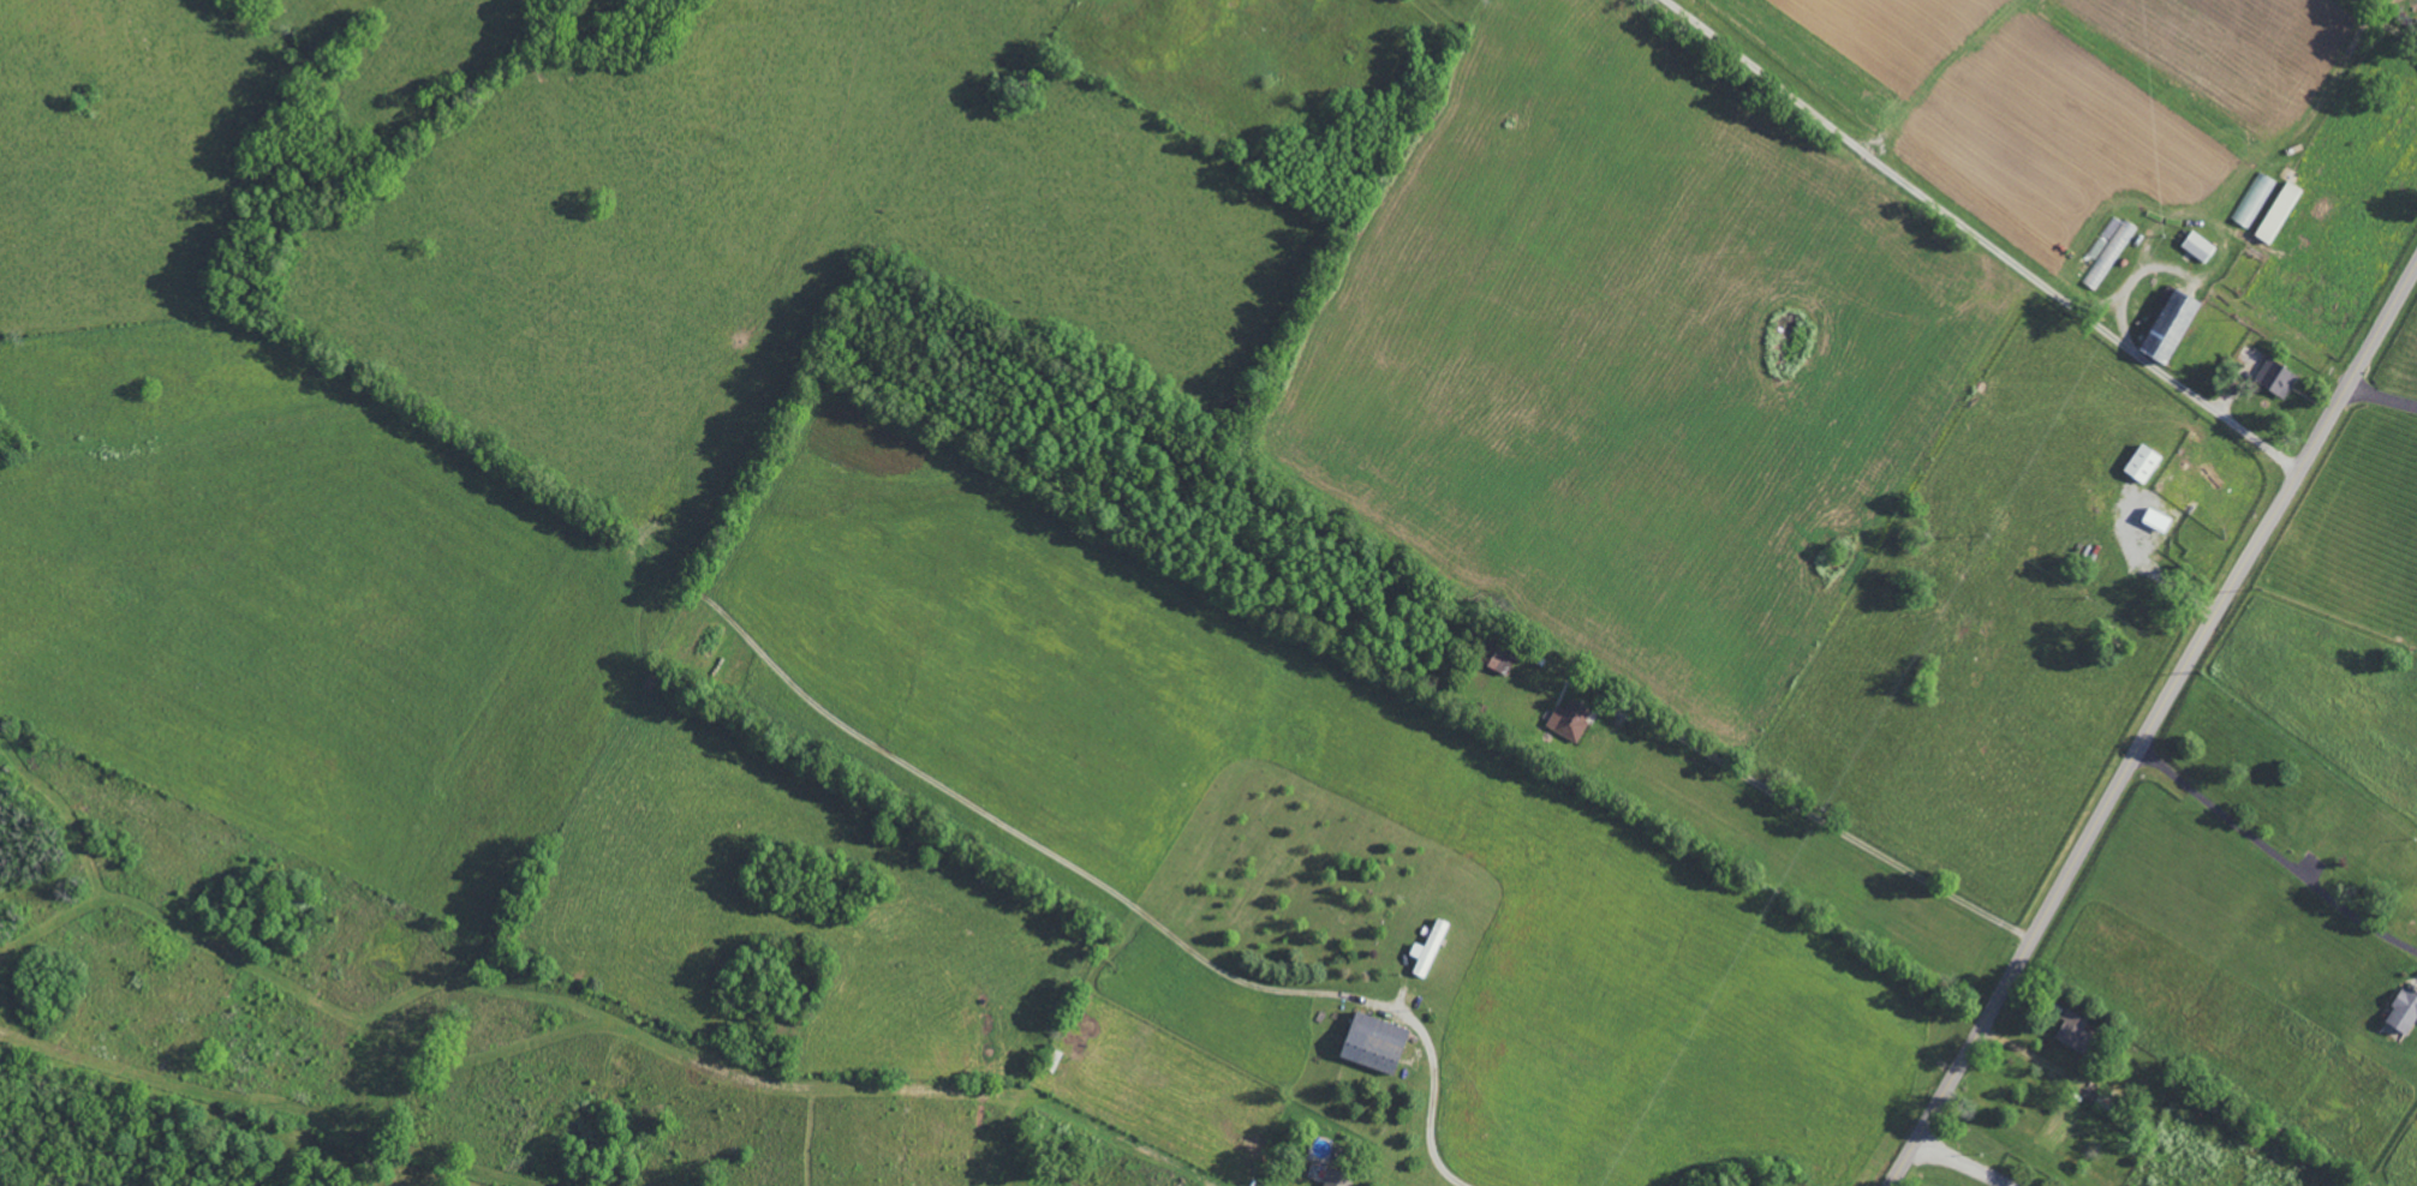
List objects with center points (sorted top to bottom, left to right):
road: (2381, 22)
road: (1980, 239)
building: (2197, 246)
building: (2167, 328)
building: (2274, 378)
road: (2381, 397)
building: (2141, 465)
building: (2155, 520)
building: (1569, 719)
road: (2152, 723)
road: (1827, 825)
road: (2273, 855)
building: (1428, 947)
building: (2403, 1010)
building: (2072, 1029)
building: (1372, 1042)
road: (1433, 1095)
road: (1962, 1163)
building: (1333, 1178)

